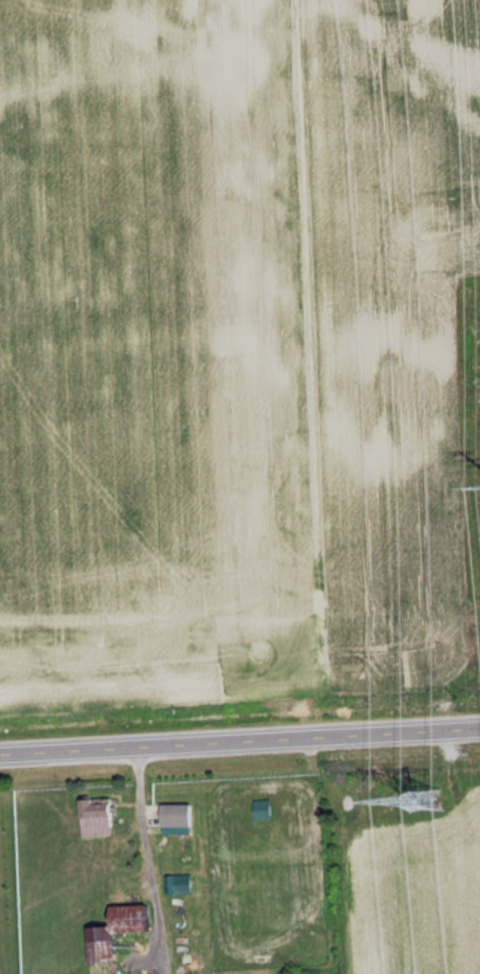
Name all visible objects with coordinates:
road: (240, 738)
power tower: (419, 796)
building: (261, 808)
building: (96, 811)
building: (175, 813)
building: (179, 882)
building: (114, 929)
building: (0, 954)

